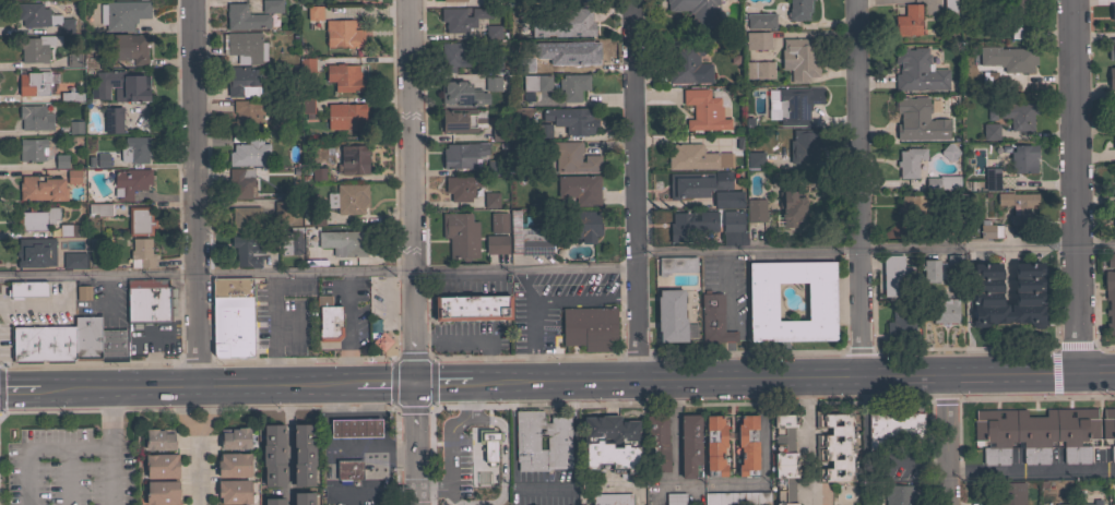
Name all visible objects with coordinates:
building: (341, 0)
building: (454, 0)
building: (576, 1)
building: (271, 7)
building: (949, 8)
building: (798, 9)
building: (697, 11)
building: (315, 13)
building: (123, 14)
building: (1110, 15)
building: (40, 17)
building: (245, 17)
building: (1017, 17)
building: (463, 19)
building: (761, 21)
building: (909, 21)
building: (580, 24)
building: (495, 32)
building: (343, 34)
building: (758, 40)
building: (247, 47)
building: (128, 48)
building: (36, 49)
building: (1111, 49)
building: (581, 52)
building: (452, 56)
building: (983, 59)
building: (73, 60)
building: (799, 60)
building: (1018, 60)
building: (531, 62)
building: (493, 63)
building: (680, 63)
building: (307, 64)
building: (759, 70)
building: (920, 71)
building: (344, 77)
building: (1112, 77)
building: (988, 80)
building: (249, 82)
building: (34, 83)
building: (537, 83)
building: (494, 84)
building: (135, 86)
building: (573, 86)
building: (461, 94)
building: (71, 96)
building: (307, 103)
building: (797, 105)
building: (300, 107)
building: (704, 110)
building: (992, 111)
building: (1114, 111)
building: (1018, 113)
building: (246, 116)
building: (345, 116)
building: (520, 116)
building: (36, 117)
building: (572, 119)
building: (112, 120)
building: (460, 120)
building: (755, 120)
building: (918, 120)
building: (75, 127)
building: (991, 131)
building: (497, 133)
building: (1114, 143)
building: (805, 145)
building: (32, 149)
building: (134, 149)
building: (949, 152)
building: (250, 153)
building: (463, 155)
building: (573, 157)
building: (697, 157)
building: (754, 159)
building: (1023, 159)
building: (61, 160)
building: (103, 160)
building: (353, 160)
building: (910, 161)
building: (494, 167)
building: (318, 173)
building: (74, 176)
building: (1114, 178)
building: (992, 179)
building: (130, 182)
building: (241, 182)
building: (942, 182)
building: (697, 183)
road: (1077, 184)
road: (859, 187)
building: (462, 188)
building: (43, 189)
building: (580, 189)
road: (632, 189)
road: (410, 190)
road: (193, 192)
building: (352, 199)
building: (727, 199)
building: (491, 200)
building: (1018, 205)
building: (913, 207)
building: (791, 208)
building: (99, 209)
building: (282, 211)
building: (756, 211)
building: (37, 218)
building: (313, 218)
building: (246, 219)
building: (733, 219)
building: (140, 220)
building: (1114, 221)
building: (499, 223)
building: (583, 225)
building: (691, 226)
building: (70, 230)
building: (989, 230)
building: (980, 232)
building: (461, 236)
building: (527, 238)
building: (283, 242)
building: (344, 242)
building: (496, 244)
road: (874, 248)
building: (247, 251)
building: (35, 252)
building: (141, 253)
building: (74, 260)
building: (1111, 260)
building: (954, 261)
building: (676, 265)
building: (933, 269)
road: (317, 270)
building: (923, 273)
building: (894, 274)
building: (26, 289)
building: (83, 292)
building: (1029, 294)
road: (582, 299)
building: (1110, 299)
building: (149, 301)
building: (762, 301)
building: (472, 308)
building: (945, 311)
building: (671, 315)
building: (233, 317)
building: (329, 320)
building: (714, 320)
road: (533, 322)
building: (900, 324)
building: (373, 327)
building: (589, 327)
building: (87, 338)
building: (382, 340)
building: (41, 344)
building: (112, 345)
road: (1075, 346)
road: (396, 358)
road: (306, 359)
road: (88, 362)
road: (797, 375)
road: (382, 382)
traffic signals: (413, 382)
road: (447, 382)
road: (204, 384)
road: (28, 387)
road: (287, 402)
road: (333, 414)
road: (367, 414)
gas station: (355, 428)
road: (573, 429)
building: (893, 429)
building: (1108, 429)
building: (346, 430)
road: (512, 430)
road: (674, 431)
building: (1035, 434)
building: (235, 437)
road: (945, 438)
building: (158, 440)
road: (805, 440)
building: (526, 442)
road: (413, 443)
building: (657, 443)
road: (111, 445)
road: (198, 445)
road: (373, 445)
building: (610, 445)
building: (690, 445)
building: (747, 445)
road: (448, 446)
building: (714, 446)
building: (835, 446)
building: (484, 448)
road: (40, 450)
building: (273, 455)
building: (303, 455)
building: (293, 456)
building: (785, 458)
road: (288, 464)
building: (234, 465)
building: (162, 466)
parking lot: (69, 468)
building: (349, 469)
road: (1030, 470)
road: (67, 478)
road: (544, 486)
building: (234, 491)
building: (162, 493)
building: (899, 494)
building: (1010, 494)
building: (304, 498)
building: (675, 498)
building: (737, 498)
building: (612, 500)
building: (274, 501)
building: (1065, 504)
building: (1084, 504)
building: (1112, 504)

